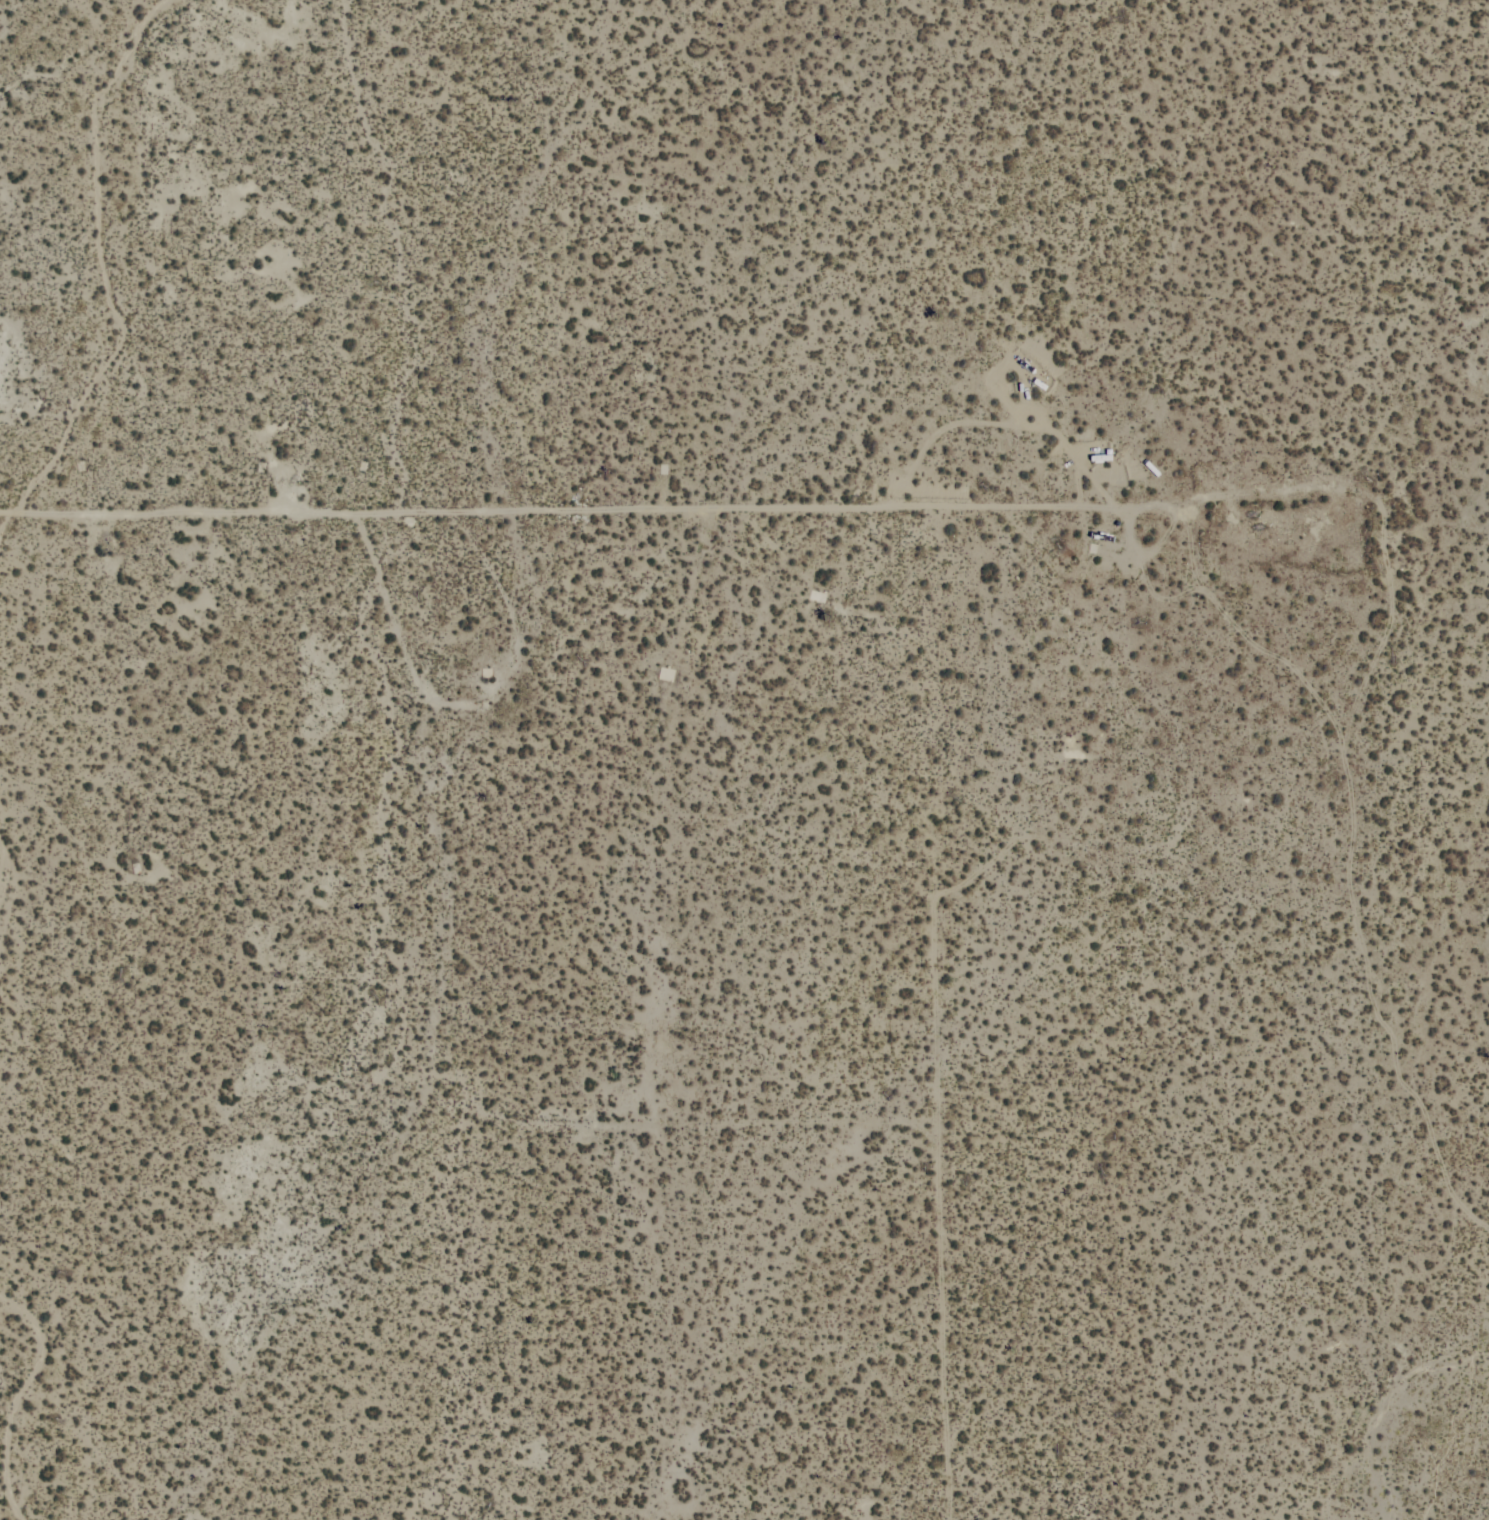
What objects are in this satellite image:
road: (579, 507)
road: (935, 1238)

